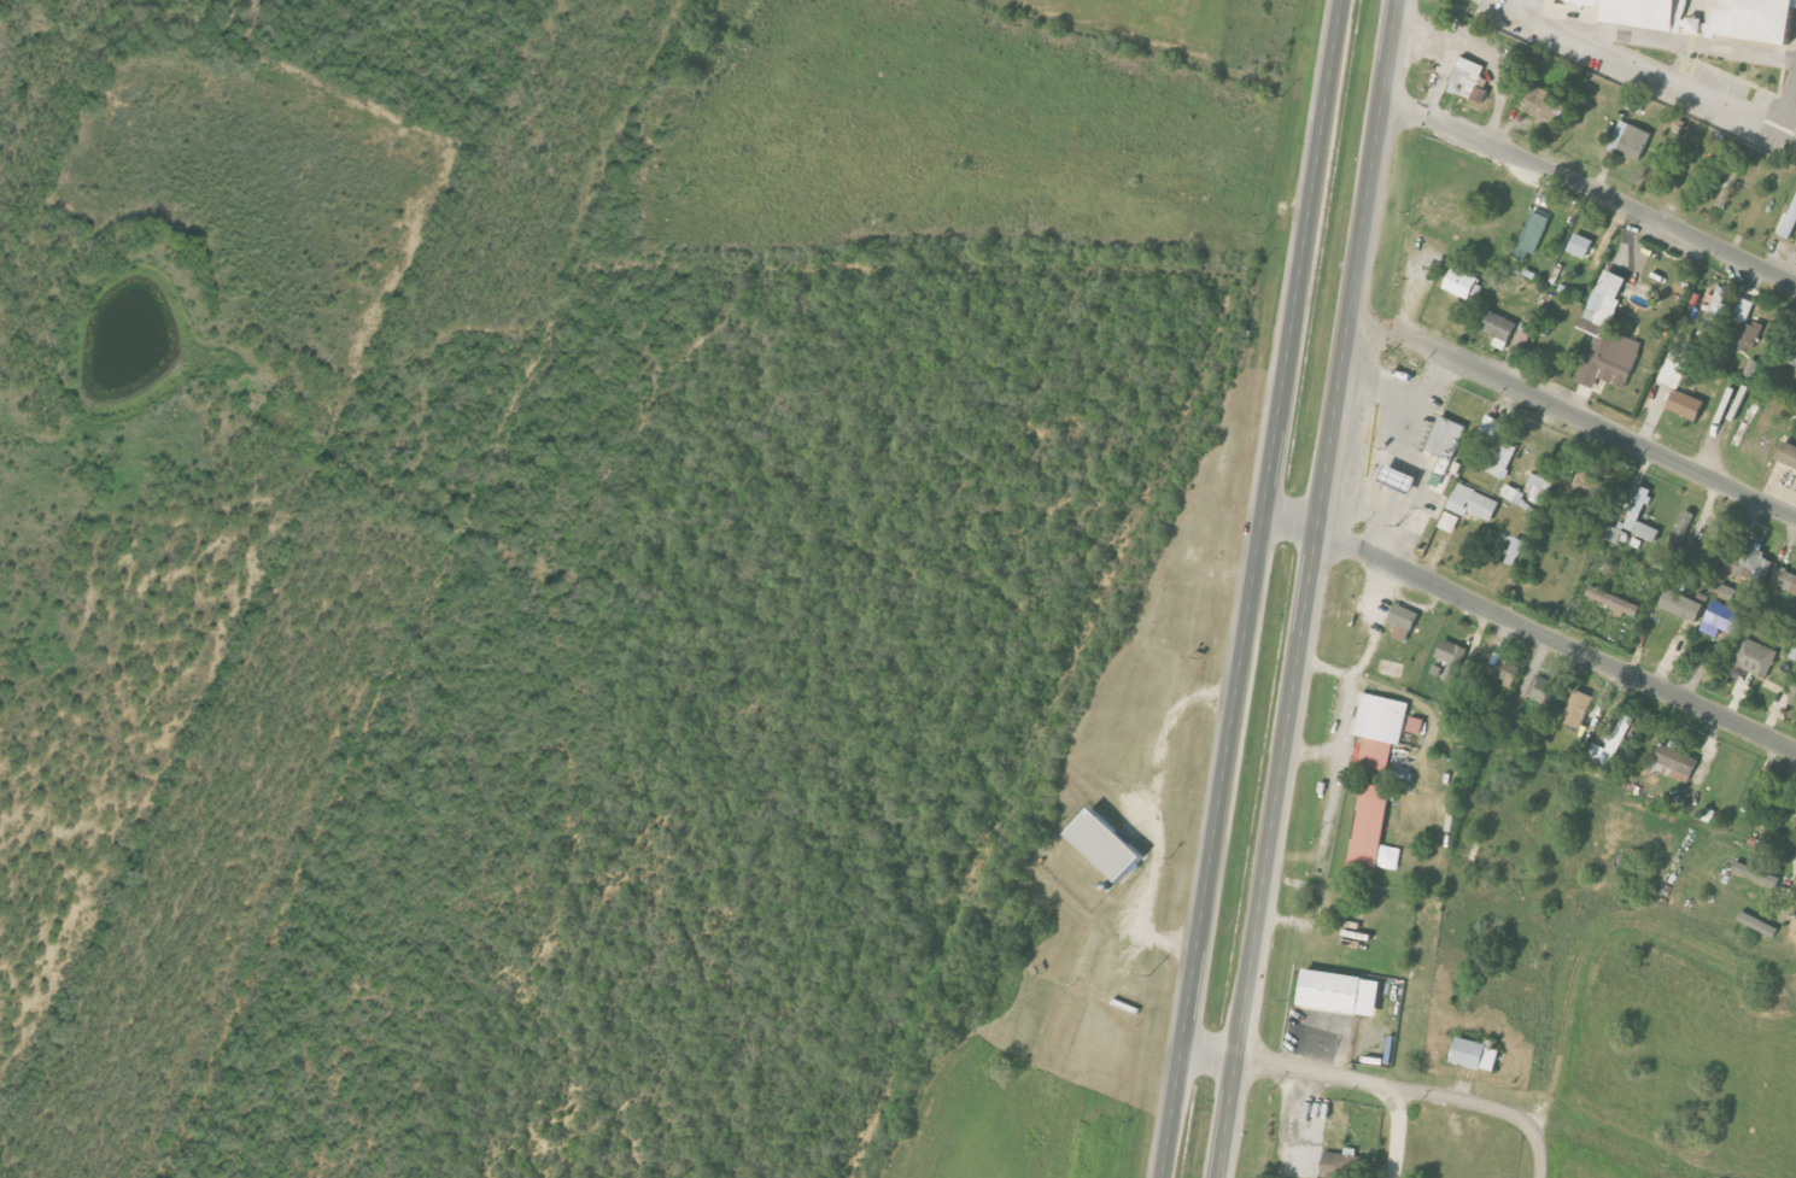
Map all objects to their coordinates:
building: (1643, 12)
building: (1750, 19)
road: (1485, 57)
road: (1645, 71)
road: (1435, 80)
building: (1469, 80)
road: (1786, 102)
building: (1636, 104)
building: (1541, 105)
building: (1630, 141)
road: (1590, 192)
building: (1790, 222)
building: (1532, 235)
building: (1580, 246)
building: (1463, 285)
building: (1605, 295)
building: (1744, 309)
building: (1714, 313)
building: (1499, 329)
building: (1750, 333)
building: (1523, 334)
building: (1790, 353)
building: (1611, 358)
building: (1751, 368)
road: (1405, 397)
building: (1686, 405)
road: (1574, 416)
building: (1444, 445)
building: (1496, 447)
building: (1788, 455)
road: (1379, 471)
building: (1399, 480)
building: (1590, 487)
building: (1538, 488)
building: (1513, 494)
road: (1361, 502)
building: (1473, 503)
building: (1638, 509)
building: (1449, 522)
building: (1646, 532)
building: (1614, 535)
building: (1515, 551)
building: (1753, 559)
building: (1785, 580)
road: (1253, 588)
road: (1309, 588)
building: (1615, 603)
building: (1681, 605)
building: (1722, 620)
road: (1376, 623)
building: (1400, 623)
road: (1531, 631)
building: (1451, 657)
building: (1755, 657)
building: (1543, 690)
building: (1792, 691)
road: (1346, 713)
building: (1415, 726)
building: (1379, 728)
building: (1610, 744)
building: (1369, 828)
building: (1106, 846)
building: (1751, 873)
building: (1352, 906)
road: (1597, 936)
building: (1340, 994)
building: (1475, 1055)
road: (1386, 1086)
road: (1398, 1133)
building: (1339, 1164)

